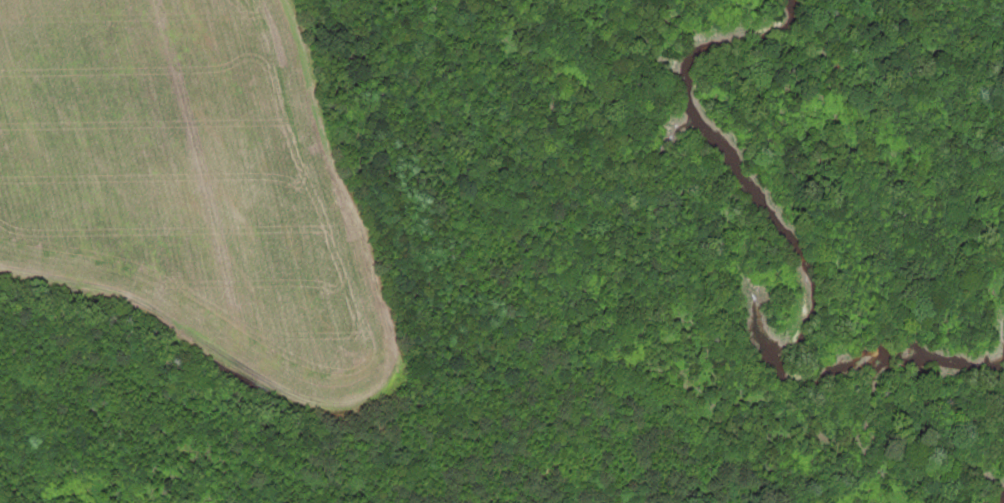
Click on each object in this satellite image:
crop: (188, 178)

